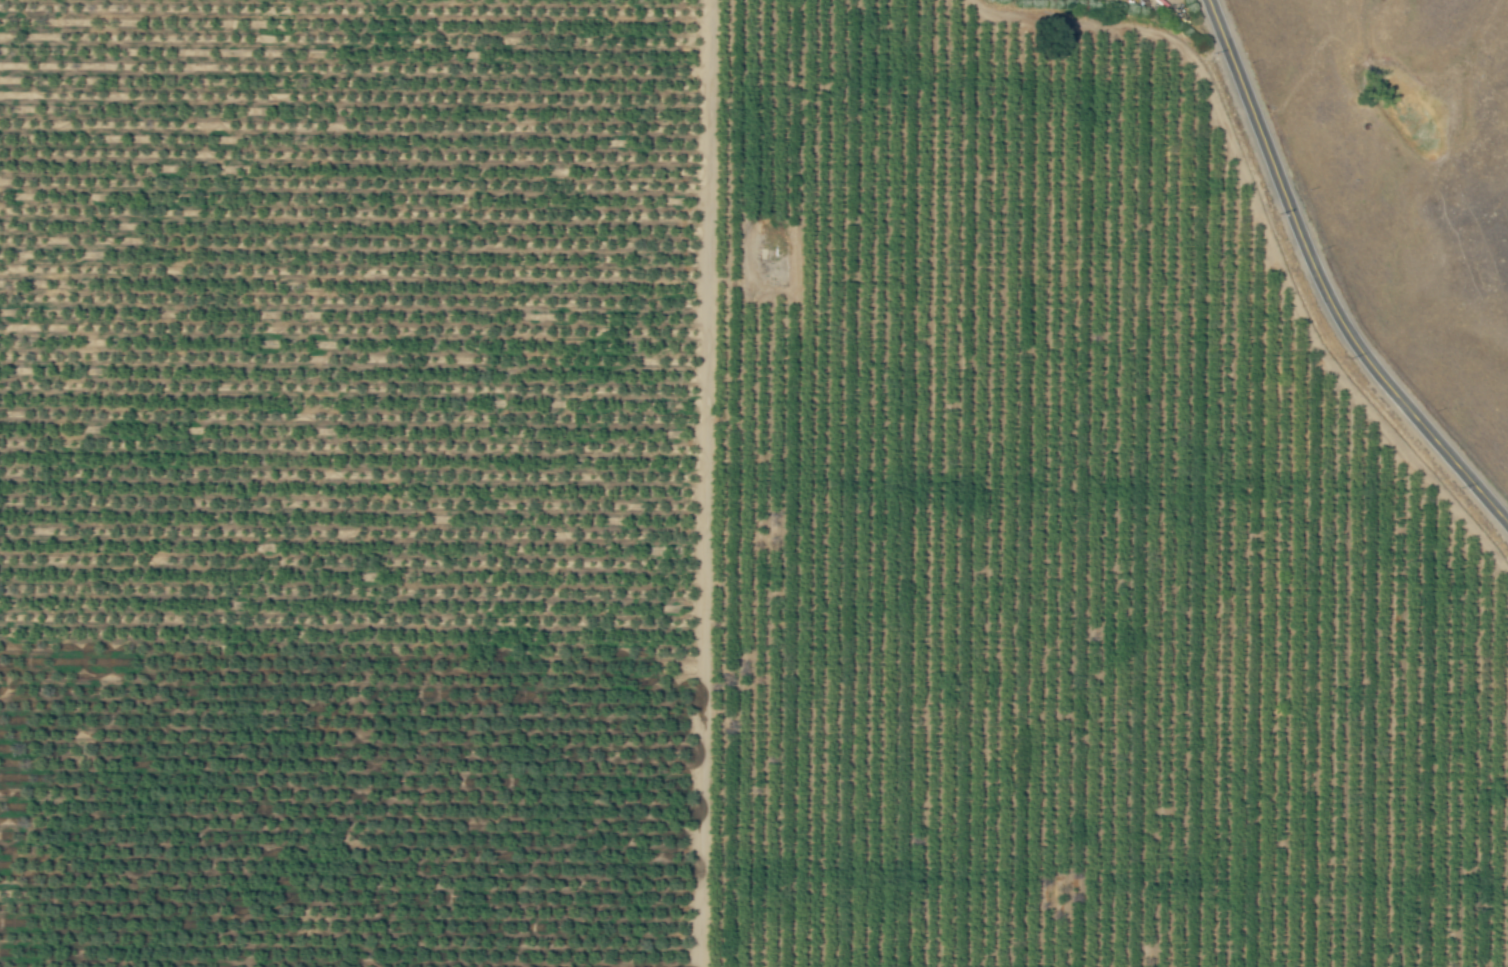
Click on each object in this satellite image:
road: (1315, 285)

